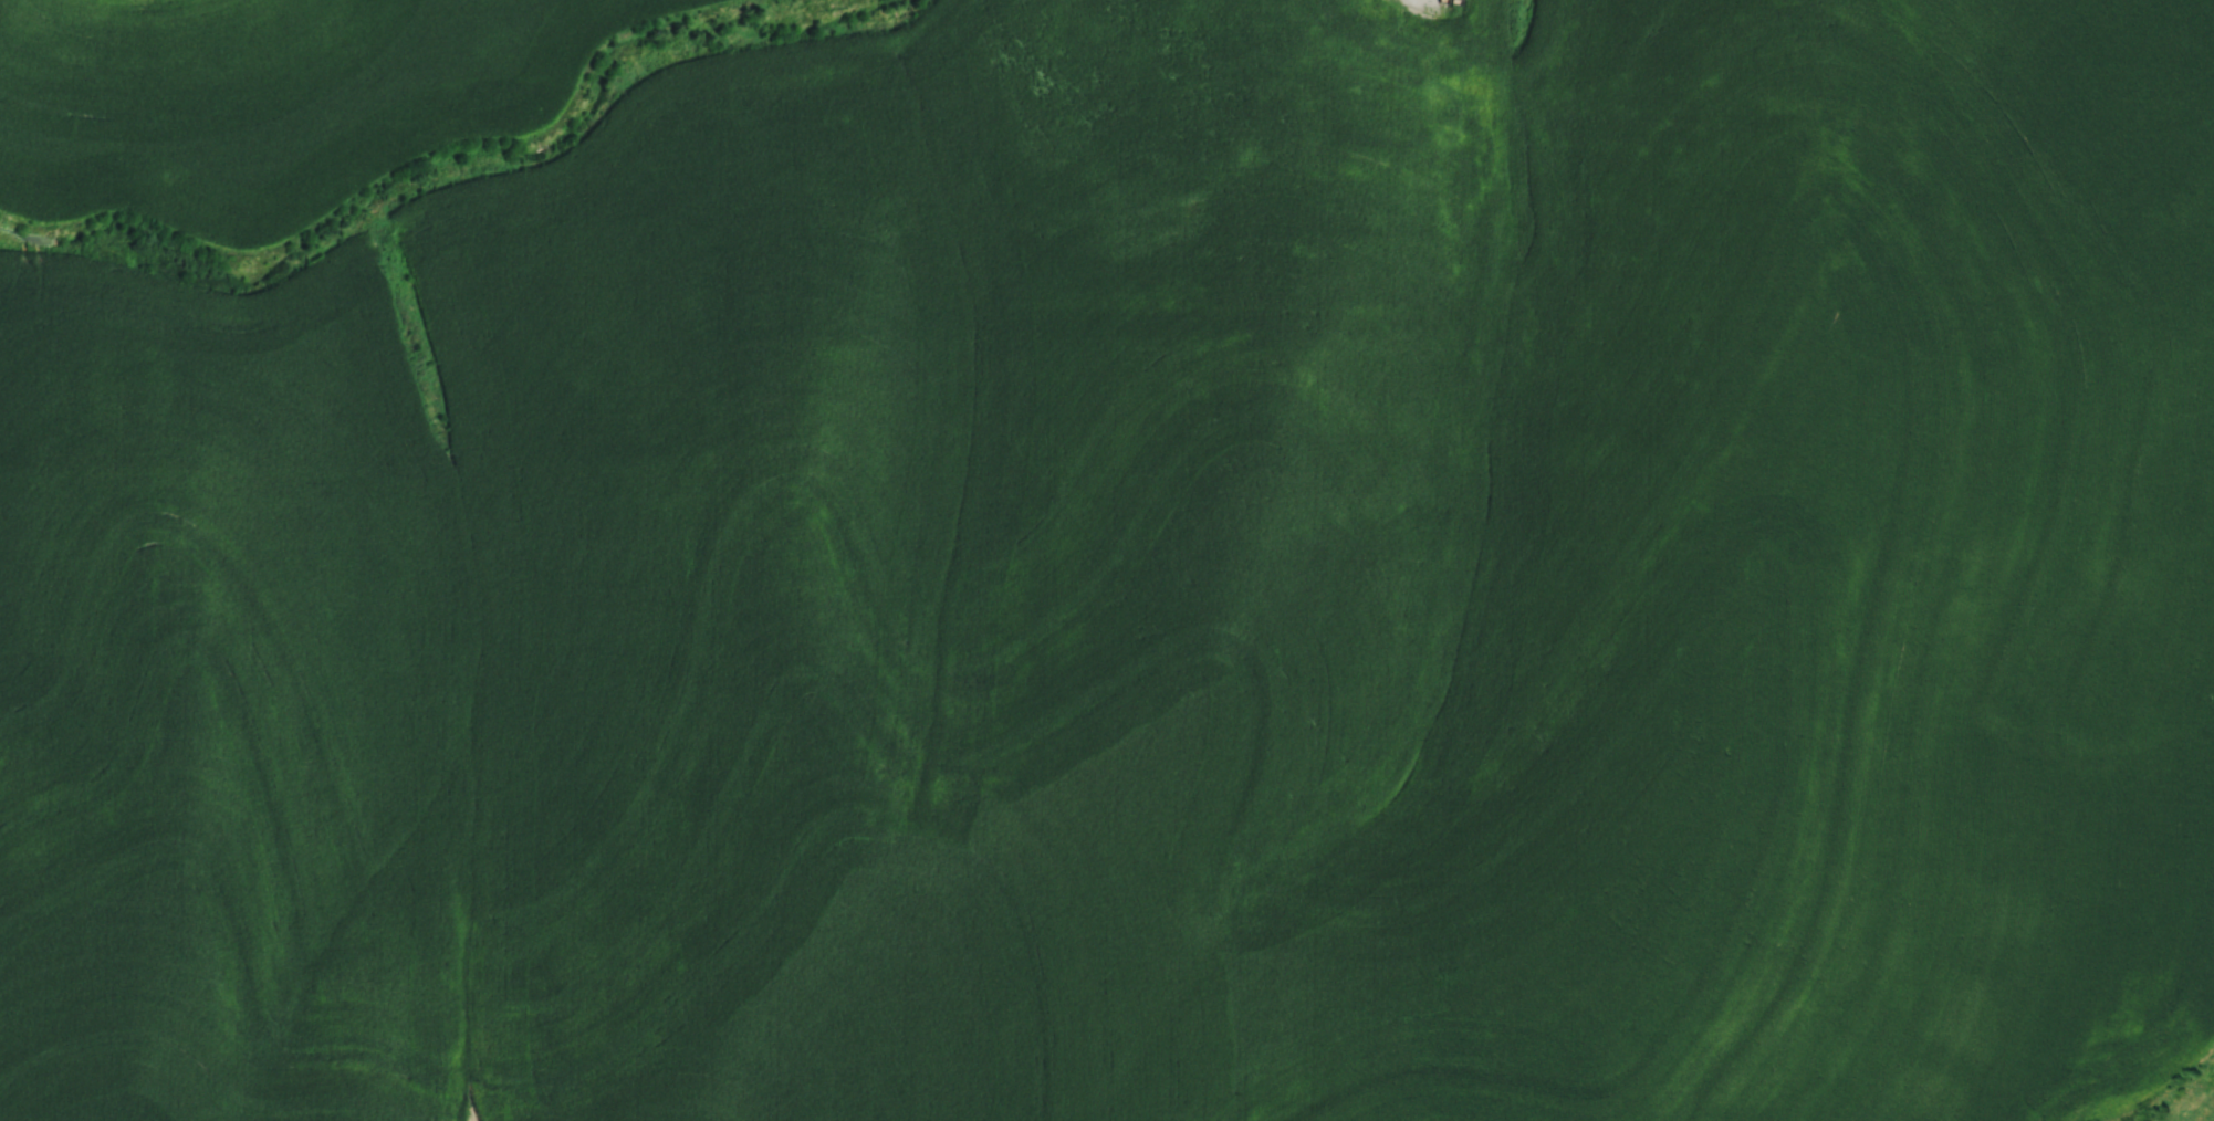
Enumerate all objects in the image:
building: (1362, 1)
building: (1418, 28)

